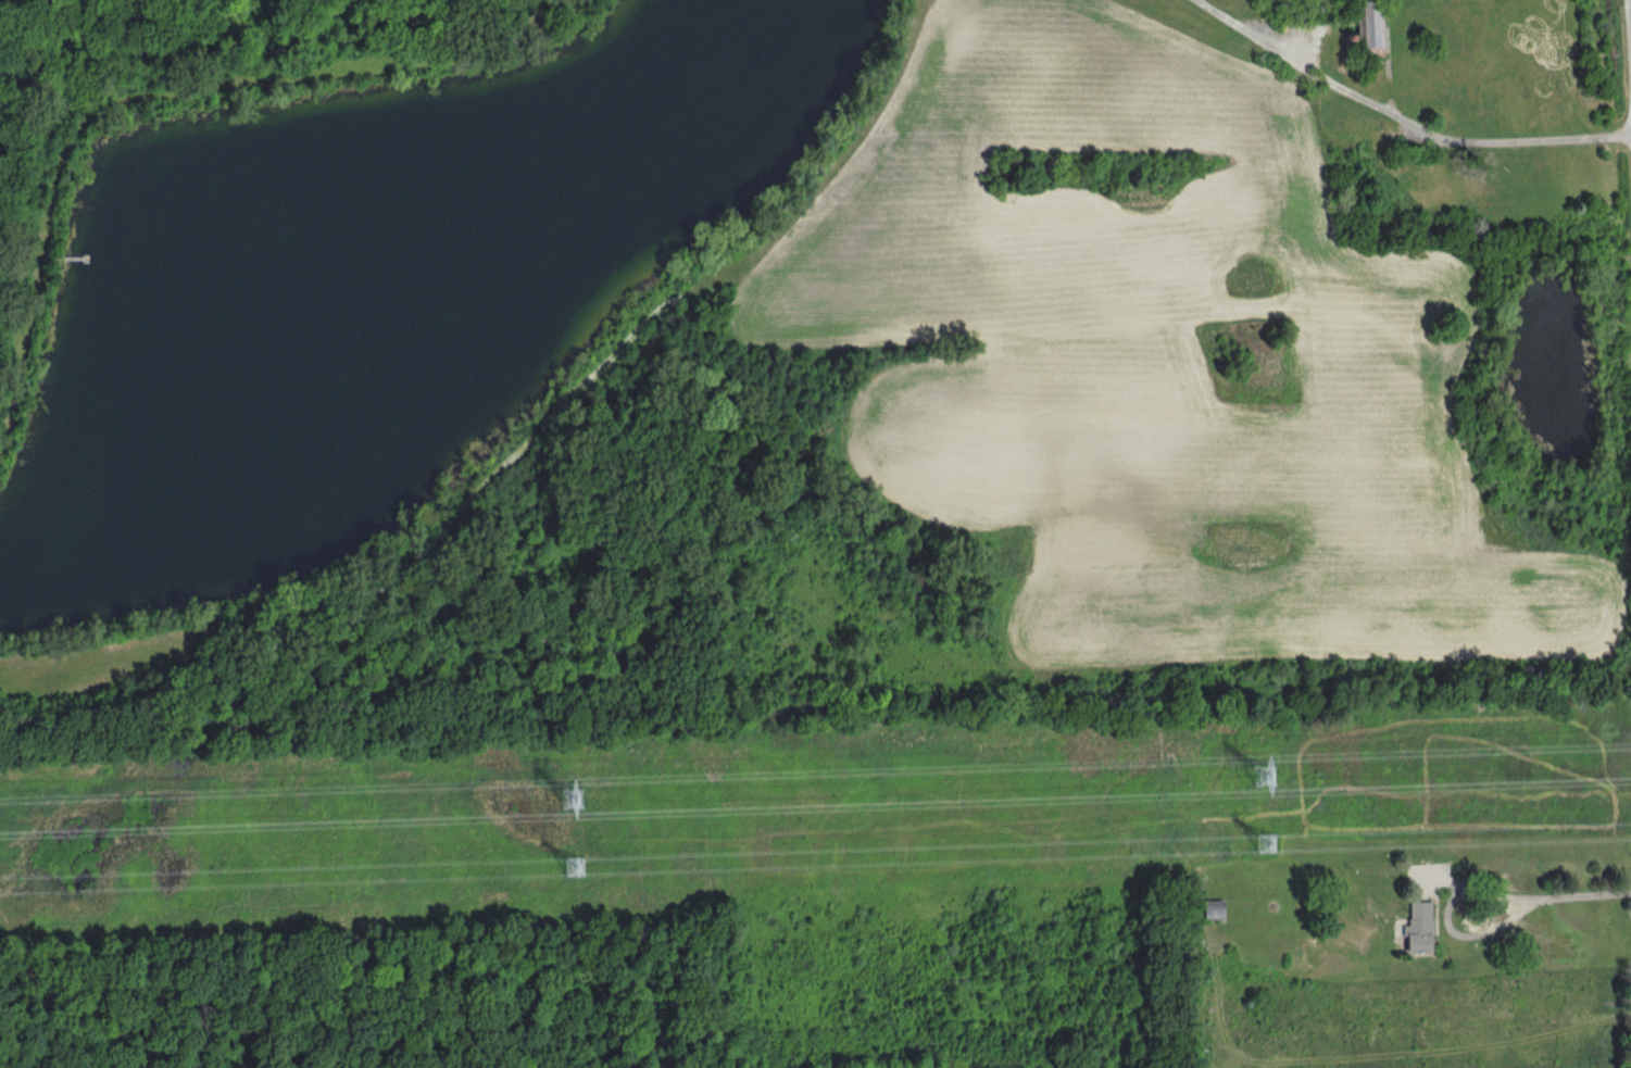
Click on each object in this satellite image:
building: (1370, 23)
road: (1402, 116)
power tower: (1263, 775)
power tower: (572, 797)
power tower: (1266, 842)
power tower: (574, 866)
road: (1585, 893)
building: (1213, 909)
road: (1446, 916)
building: (1418, 928)

